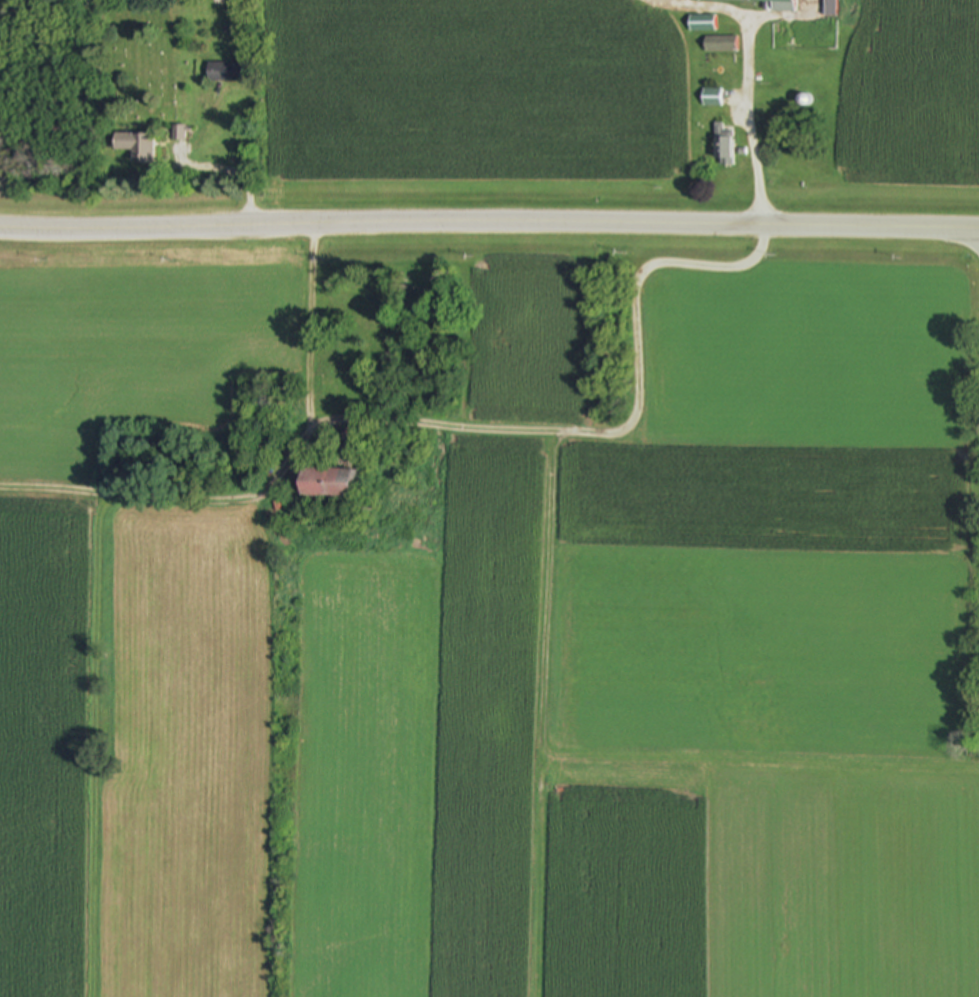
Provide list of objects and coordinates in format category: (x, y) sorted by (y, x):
building: (783, 8)
building: (702, 25)
park: (165, 56)
building: (225, 73)
road: (747, 79)
building: (711, 100)
building: (722, 148)
building: (137, 149)
road: (489, 224)
road: (519, 431)
building: (330, 476)

